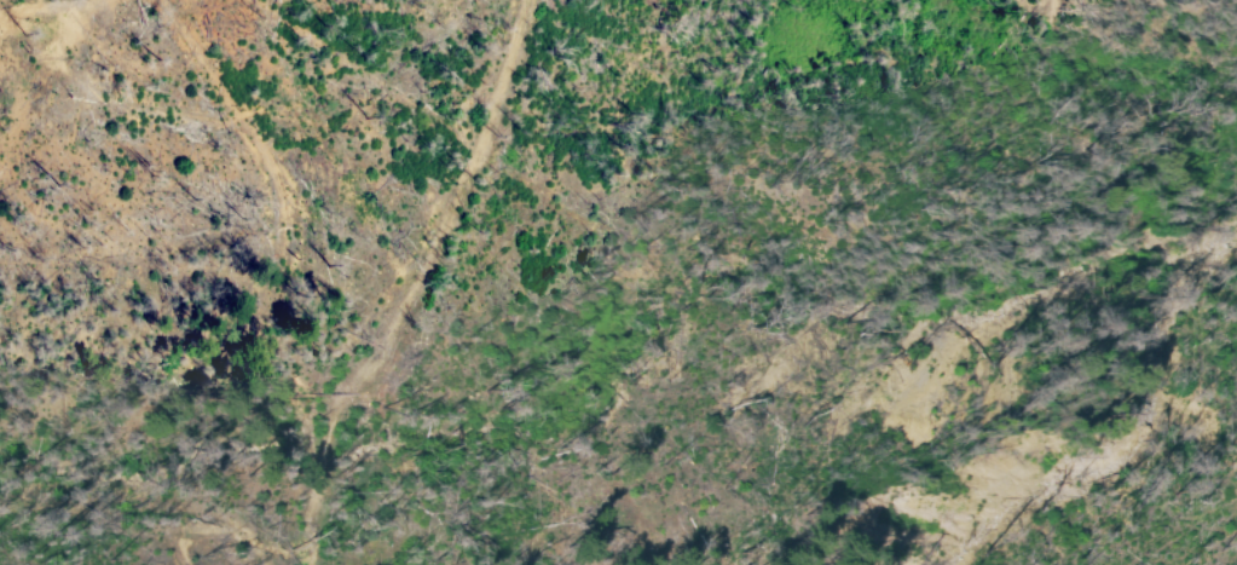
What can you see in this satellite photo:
road: (12, 1)
road: (420, 287)

